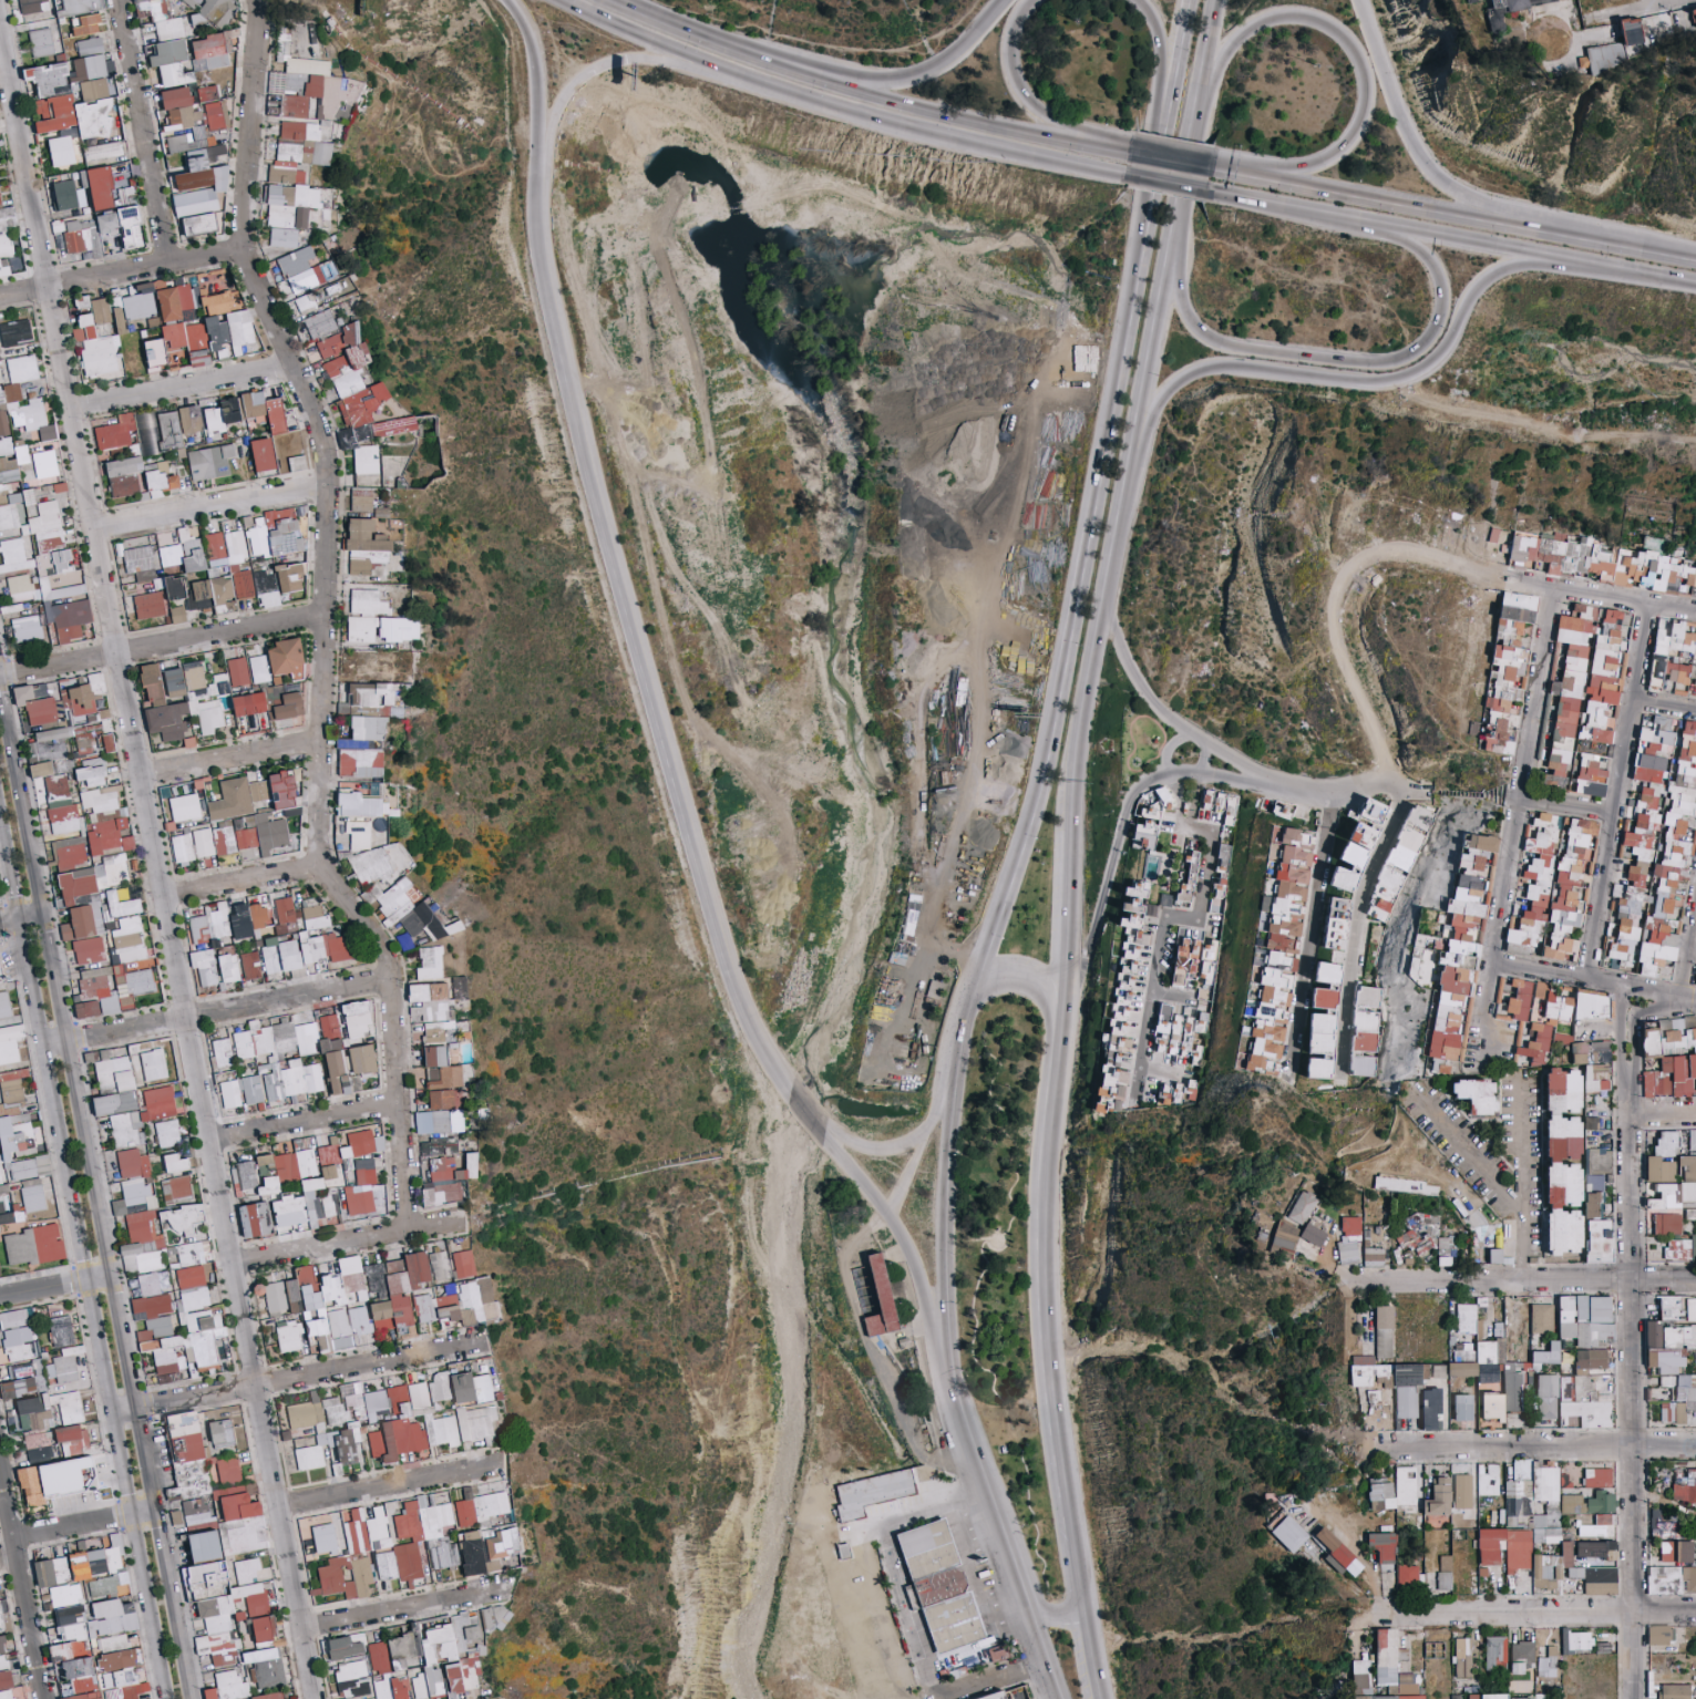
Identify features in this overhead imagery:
building: (30, 6)
building: (79, 7)
building: (88, 24)
building: (178, 34)
gas station: (923, 1552)
gas station: (949, 1623)

